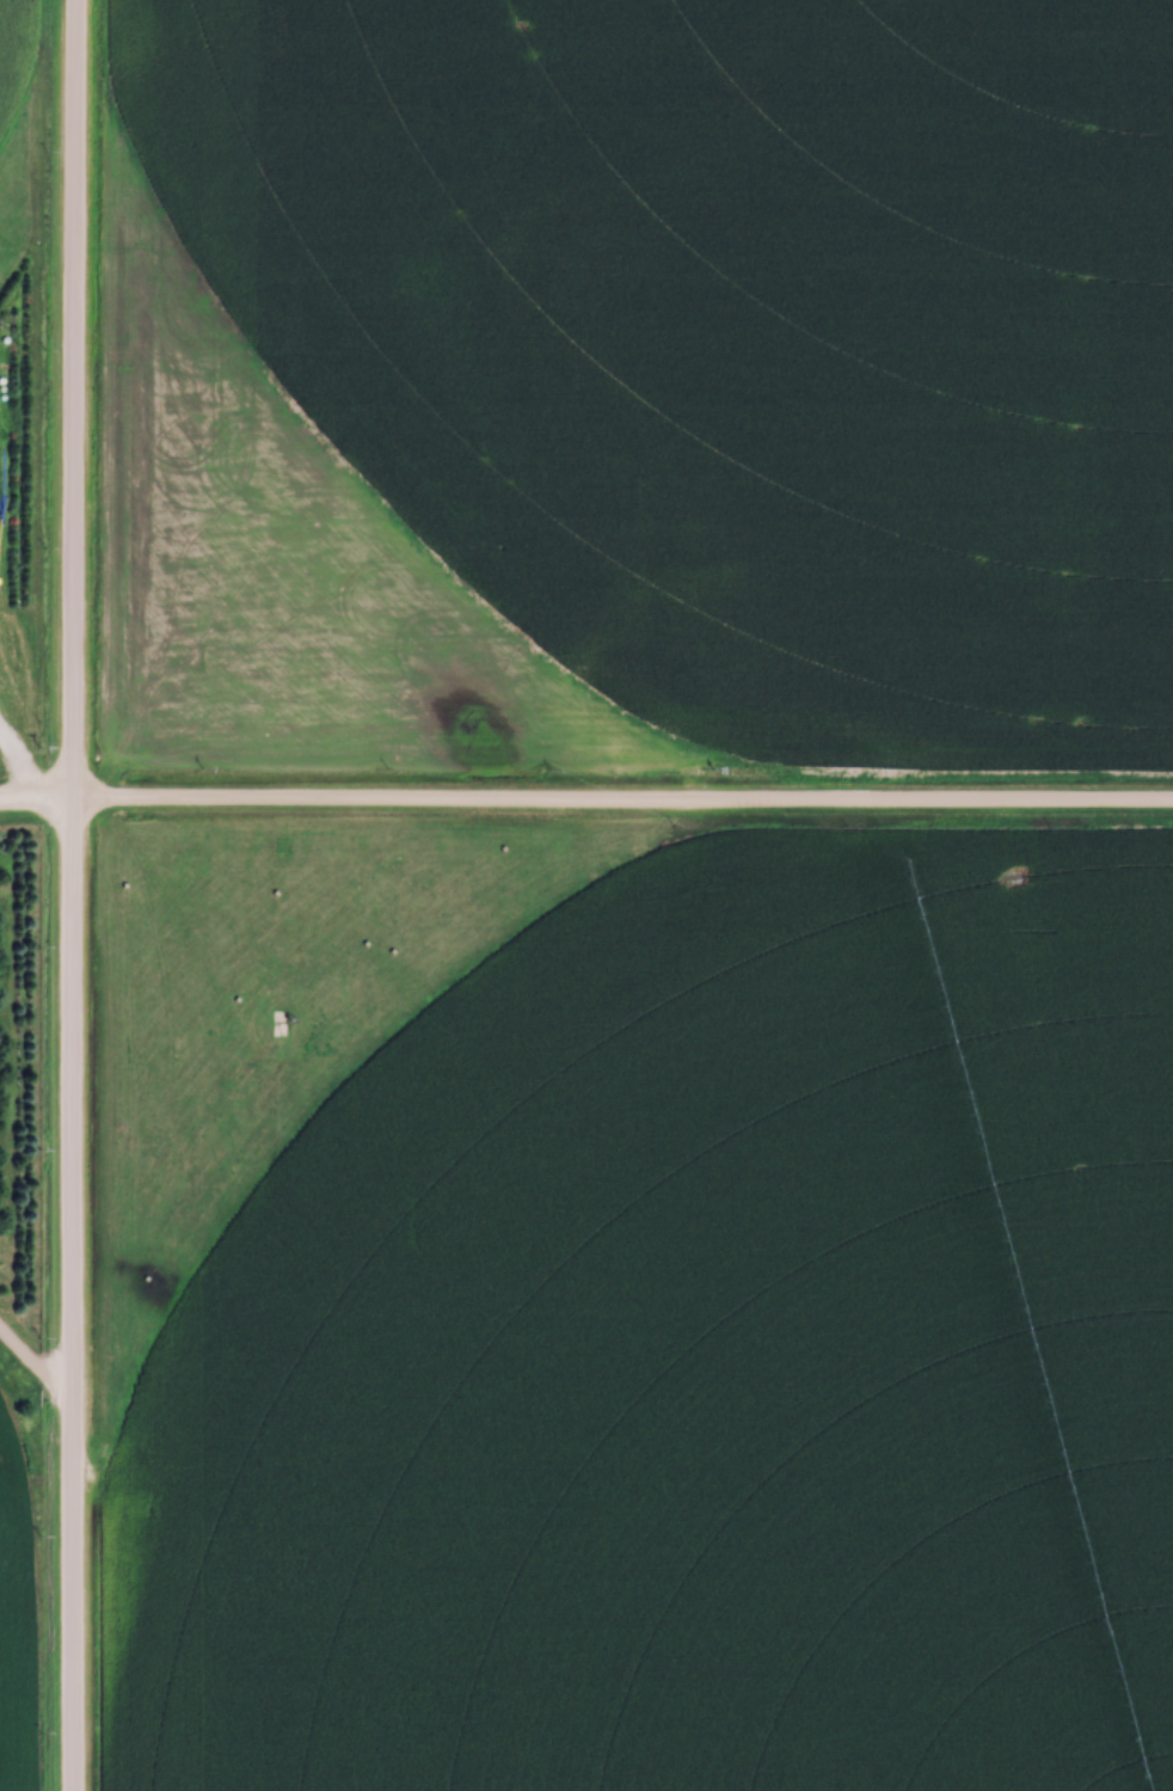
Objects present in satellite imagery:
road: (586, 797)
road: (72, 895)

